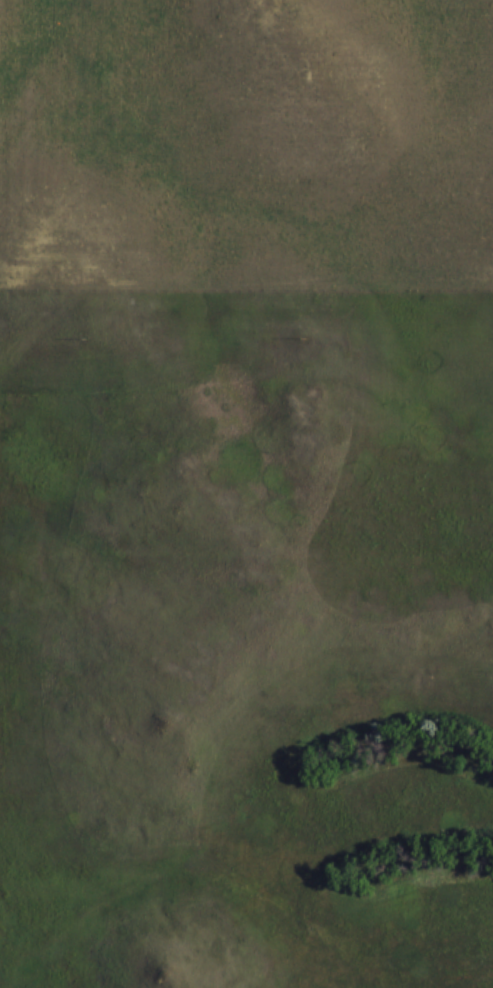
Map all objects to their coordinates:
road: (207, 878)

